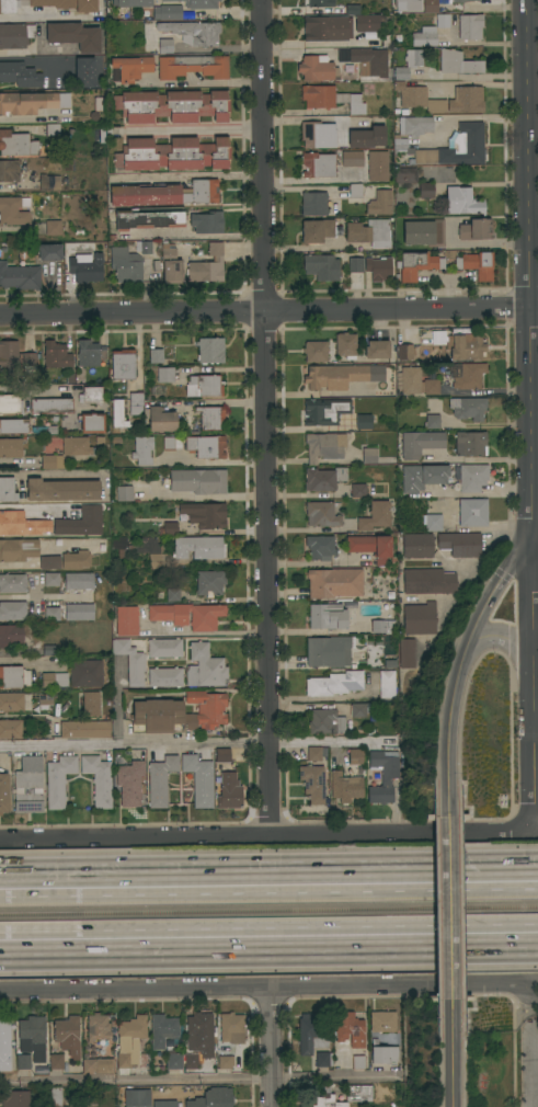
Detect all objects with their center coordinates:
building: (462, 0)
building: (139, 3)
building: (198, 3)
building: (320, 3)
building: (412, 4)
building: (430, 5)
building: (85, 10)
building: (168, 12)
road: (41, 18)
building: (363, 19)
building: (443, 21)
building: (470, 26)
building: (323, 28)
building: (193, 32)
building: (15, 35)
building: (75, 35)
building: (424, 37)
building: (163, 45)
road: (30, 58)
building: (370, 61)
building: (458, 62)
building: (409, 64)
building: (193, 66)
building: (131, 68)
building: (317, 68)
building: (84, 71)
building: (20, 75)
building: (417, 98)
building: (331, 99)
building: (466, 100)
building: (30, 102)
building: (172, 106)
road: (306, 118)
building: (53, 129)
road: (194, 129)
building: (411, 130)
building: (318, 135)
building: (367, 137)
building: (18, 144)
building: (456, 147)
building: (172, 155)
building: (352, 159)
building: (318, 164)
building: (377, 166)
building: (9, 171)
road: (190, 175)
building: (405, 175)
building: (49, 182)
building: (426, 190)
building: (355, 191)
building: (164, 193)
building: (462, 201)
building: (380, 203)
building: (313, 204)
building: (13, 210)
building: (149, 218)
building: (207, 221)
building: (53, 227)
building: (474, 229)
building: (317, 230)
building: (424, 231)
building: (369, 232)
road: (199, 236)
building: (49, 252)
building: (171, 264)
building: (355, 264)
building: (416, 264)
building: (477, 264)
building: (125, 265)
building: (207, 265)
building: (87, 266)
building: (321, 266)
road: (530, 267)
building: (379, 269)
building: (20, 276)
road: (268, 315)
building: (346, 345)
building: (467, 347)
building: (210, 350)
building: (377, 350)
road: (137, 351)
building: (316, 351)
building: (9, 353)
building: (404, 353)
building: (57, 355)
building: (89, 355)
building: (156, 355)
building: (30, 361)
building: (123, 364)
building: (165, 374)
building: (467, 375)
building: (342, 376)
building: (417, 381)
building: (204, 386)
road: (21, 388)
building: (91, 395)
building: (10, 403)
building: (136, 403)
building: (51, 406)
building: (468, 408)
building: (325, 411)
building: (118, 414)
building: (210, 416)
building: (160, 420)
road: (268, 421)
building: (363, 421)
building: (433, 421)
building: (91, 422)
building: (13, 426)
building: (45, 430)
building: (171, 443)
building: (420, 443)
building: (471, 444)
building: (75, 445)
building: (206, 446)
building: (324, 446)
building: (11, 447)
building: (142, 449)
building: (369, 455)
building: (51, 461)
road: (214, 461)
road: (51, 473)
building: (422, 476)
building: (472, 477)
building: (324, 478)
building: (198, 481)
building: (7, 489)
building: (61, 490)
building: (358, 491)
building: (125, 493)
road: (478, 493)
building: (48, 510)
building: (472, 512)
building: (204, 514)
building: (322, 514)
building: (375, 516)
building: (432, 522)
building: (14, 524)
building: (169, 528)
road: (310, 528)
building: (61, 529)
building: (460, 544)
building: (145, 545)
building: (370, 546)
building: (415, 546)
building: (199, 547)
building: (321, 547)
building: (18, 549)
building: (75, 560)
building: (156, 561)
building: (49, 562)
building: (51, 579)
building: (79, 581)
building: (427, 581)
building: (209, 582)
building: (12, 583)
building: (334, 583)
road: (496, 590)
building: (172, 594)
road: (533, 594)
building: (12, 610)
building: (79, 612)
building: (51, 614)
building: (328, 616)
building: (168, 618)
building: (420, 618)
building: (126, 620)
building: (384, 626)
road: (207, 632)
building: (11, 635)
road: (501, 638)
building: (164, 648)
building: (49, 650)
building: (325, 651)
building: (407, 653)
building: (130, 661)
building: (389, 664)
building: (205, 666)
building: (85, 673)
building: (13, 676)
building: (165, 677)
building: (54, 680)
building: (334, 684)
building: (387, 684)
building: (45, 699)
building: (14, 701)
building: (91, 704)
building: (359, 709)
building: (179, 714)
building: (325, 721)
road: (537, 728)
building: (10, 729)
building: (84, 729)
road: (447, 730)
road: (535, 741)
road: (204, 746)
building: (313, 753)
building: (222, 755)
building: (355, 756)
building: (384, 774)
building: (59, 779)
building: (99, 779)
building: (199, 779)
building: (160, 780)
building: (129, 783)
building: (312, 783)
building: (28, 785)
building: (345, 787)
building: (229, 791)
building: (4, 792)
road: (264, 842)
road: (268, 874)
road: (268, 892)
road: (449, 908)
railway: (268, 910)
road: (268, 925)
road: (268, 950)
road: (268, 988)
building: (382, 1022)
building: (98, 1027)
building: (201, 1027)
building: (231, 1028)
building: (350, 1028)
building: (162, 1029)
building: (310, 1030)
building: (68, 1035)
building: (33, 1037)
building: (130, 1040)
building: (4, 1043)
road: (272, 1047)
road: (451, 1052)
building: (384, 1054)
building: (322, 1059)
building: (23, 1061)
building: (56, 1061)
building: (174, 1061)
building: (191, 1061)
building: (225, 1061)
building: (358, 1062)
building: (99, 1065)
building: (42, 1069)
road: (201, 1081)
building: (179, 1092)
building: (357, 1092)
building: (54, 1097)
building: (15, 1098)
building: (213, 1098)
building: (325, 1098)

